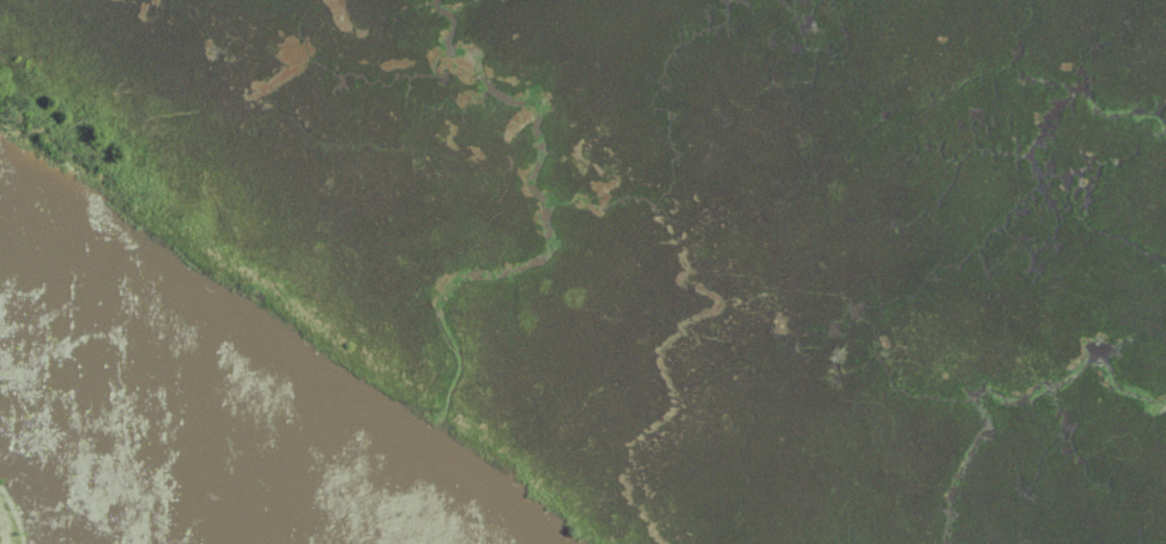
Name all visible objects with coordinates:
river: (103, 427)

